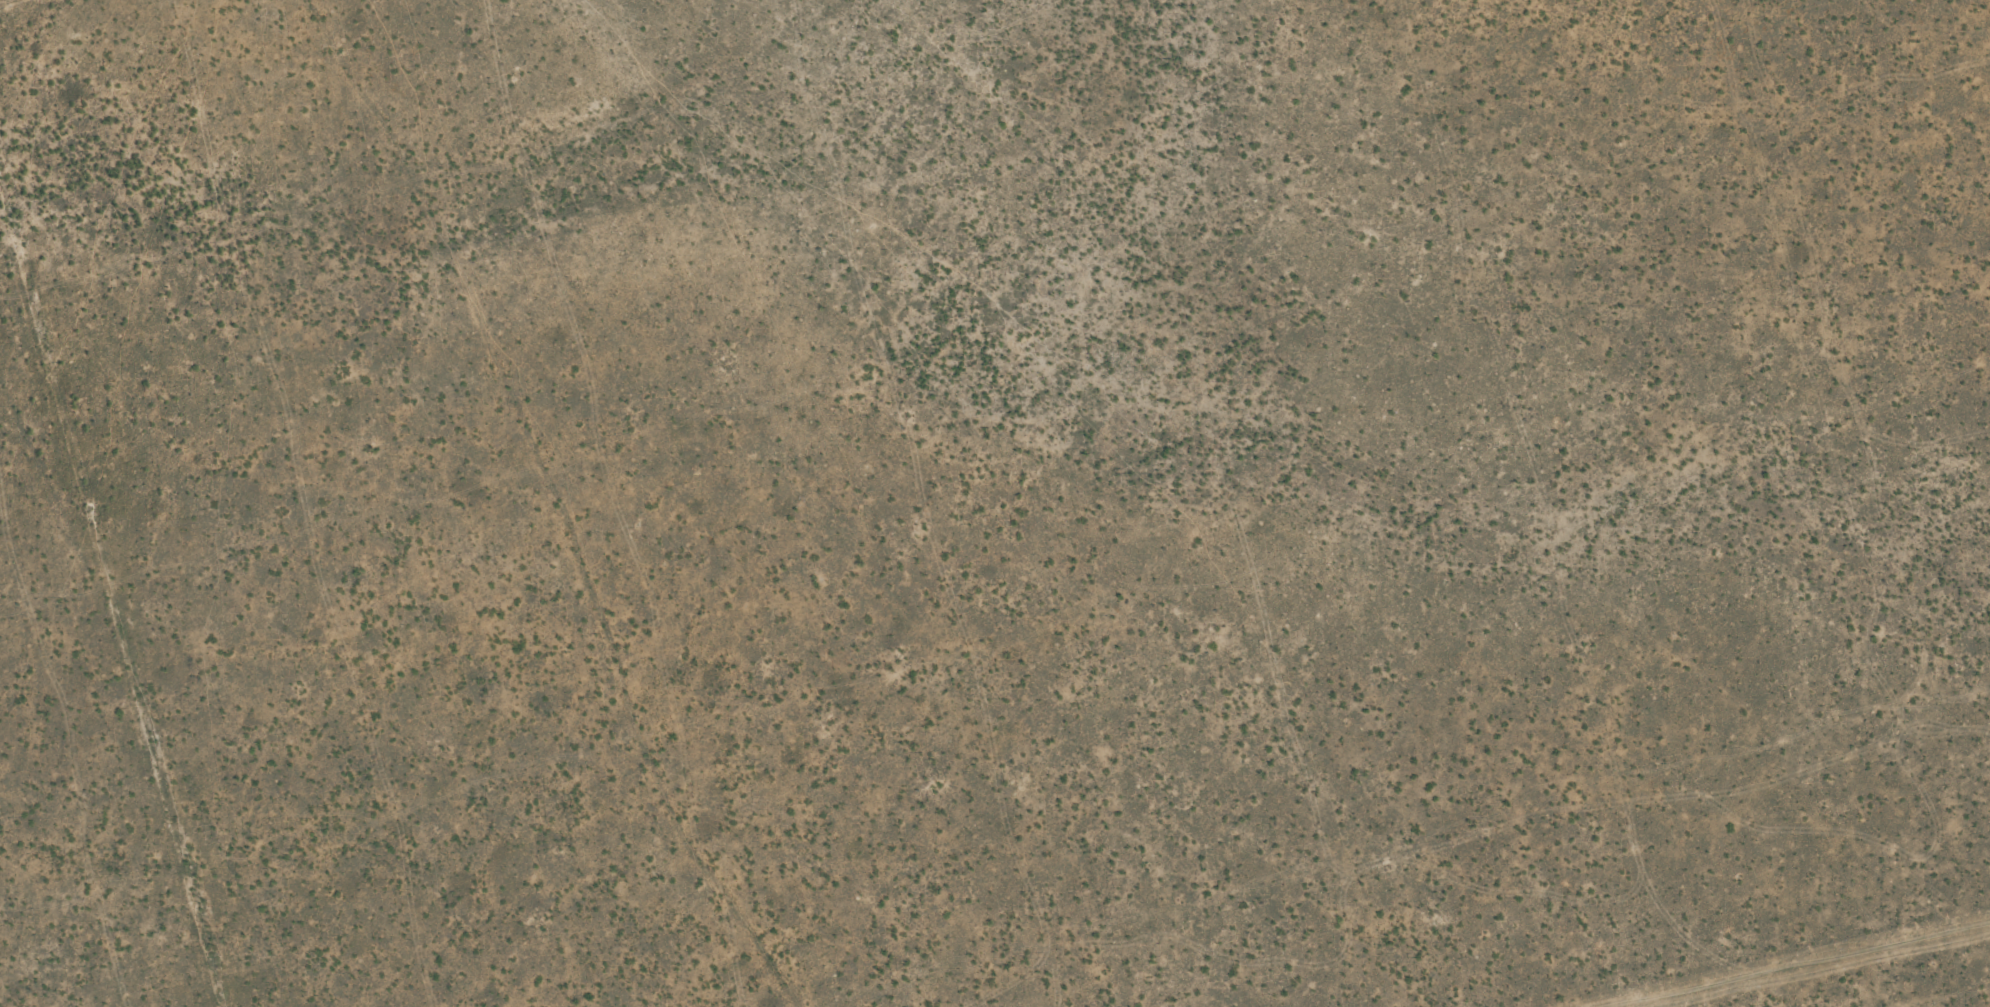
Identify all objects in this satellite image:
river: (1117, 89)

